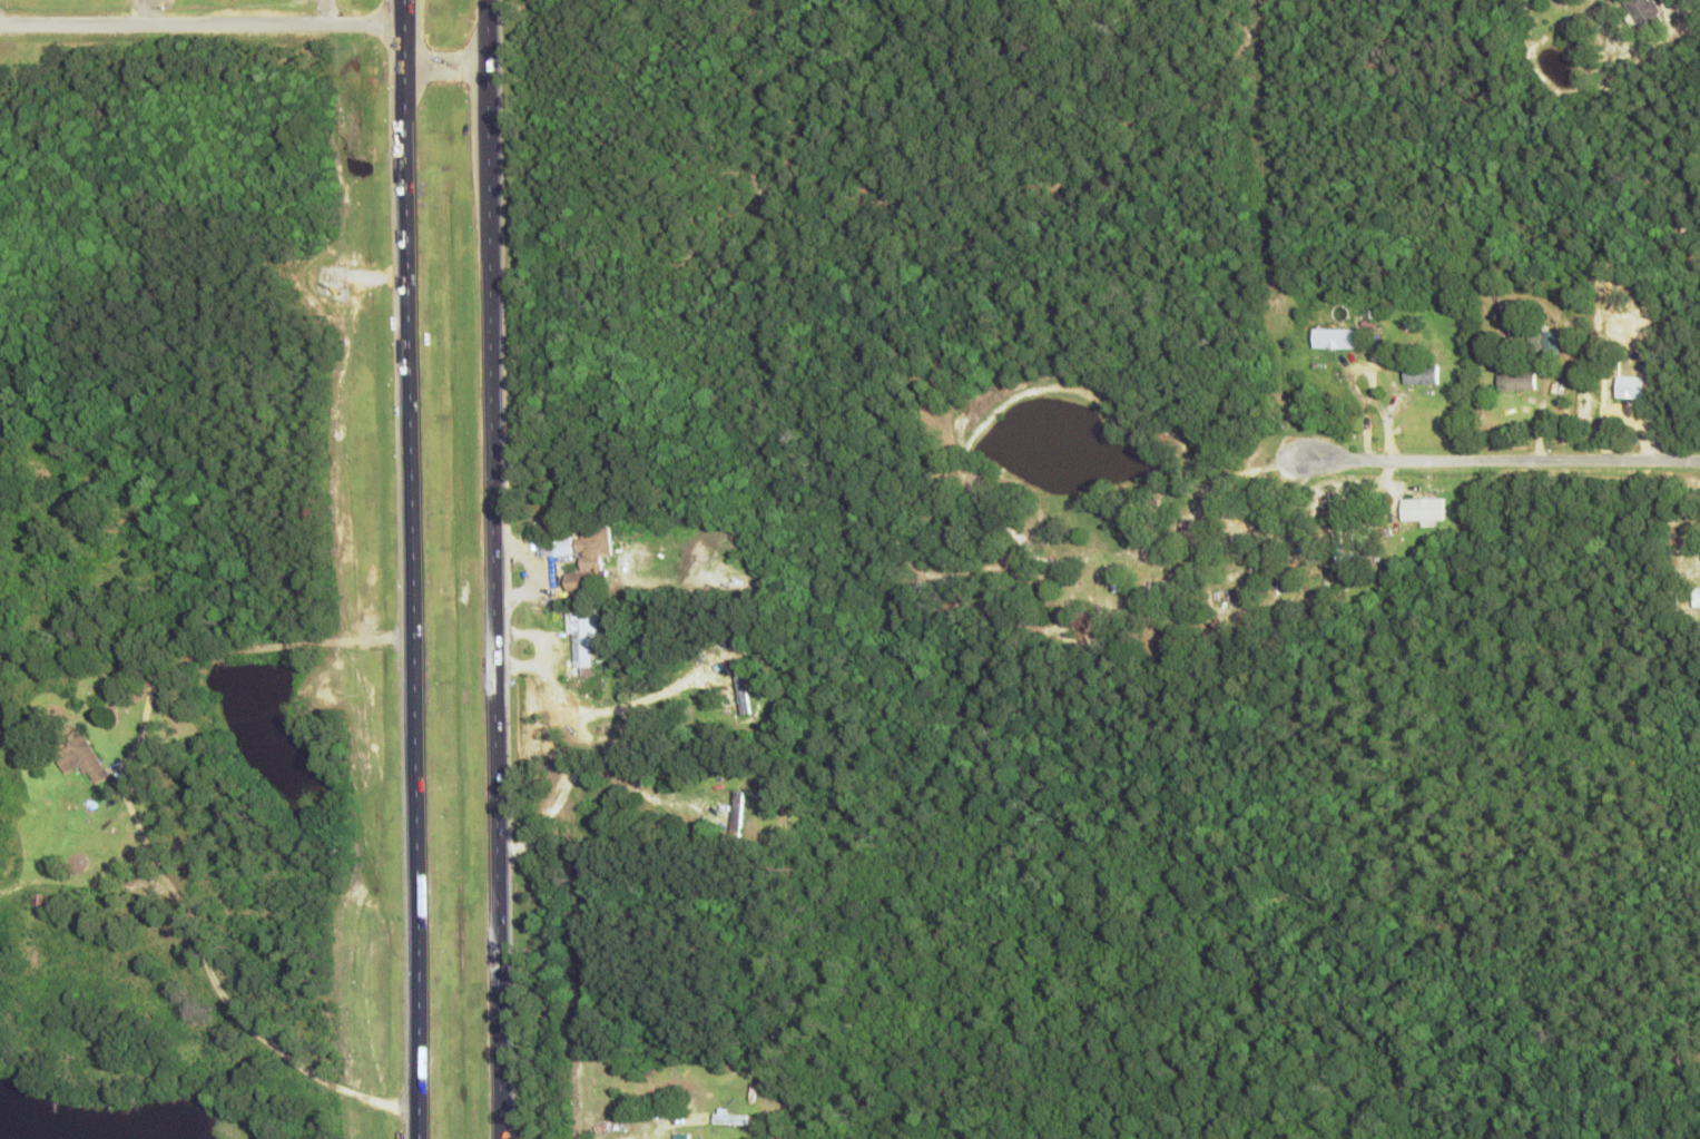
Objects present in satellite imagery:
building: (1642, 11)
road: (444, 65)
building: (1336, 337)
building: (1545, 342)
building: (1418, 374)
building: (1512, 382)
building: (1625, 386)
road: (1495, 459)
building: (1419, 509)
building: (558, 546)
building: (590, 558)
road: (410, 569)
road: (492, 569)
building: (1696, 597)
building: (583, 635)
building: (77, 756)
road: (138, 826)
building: (726, 1118)

